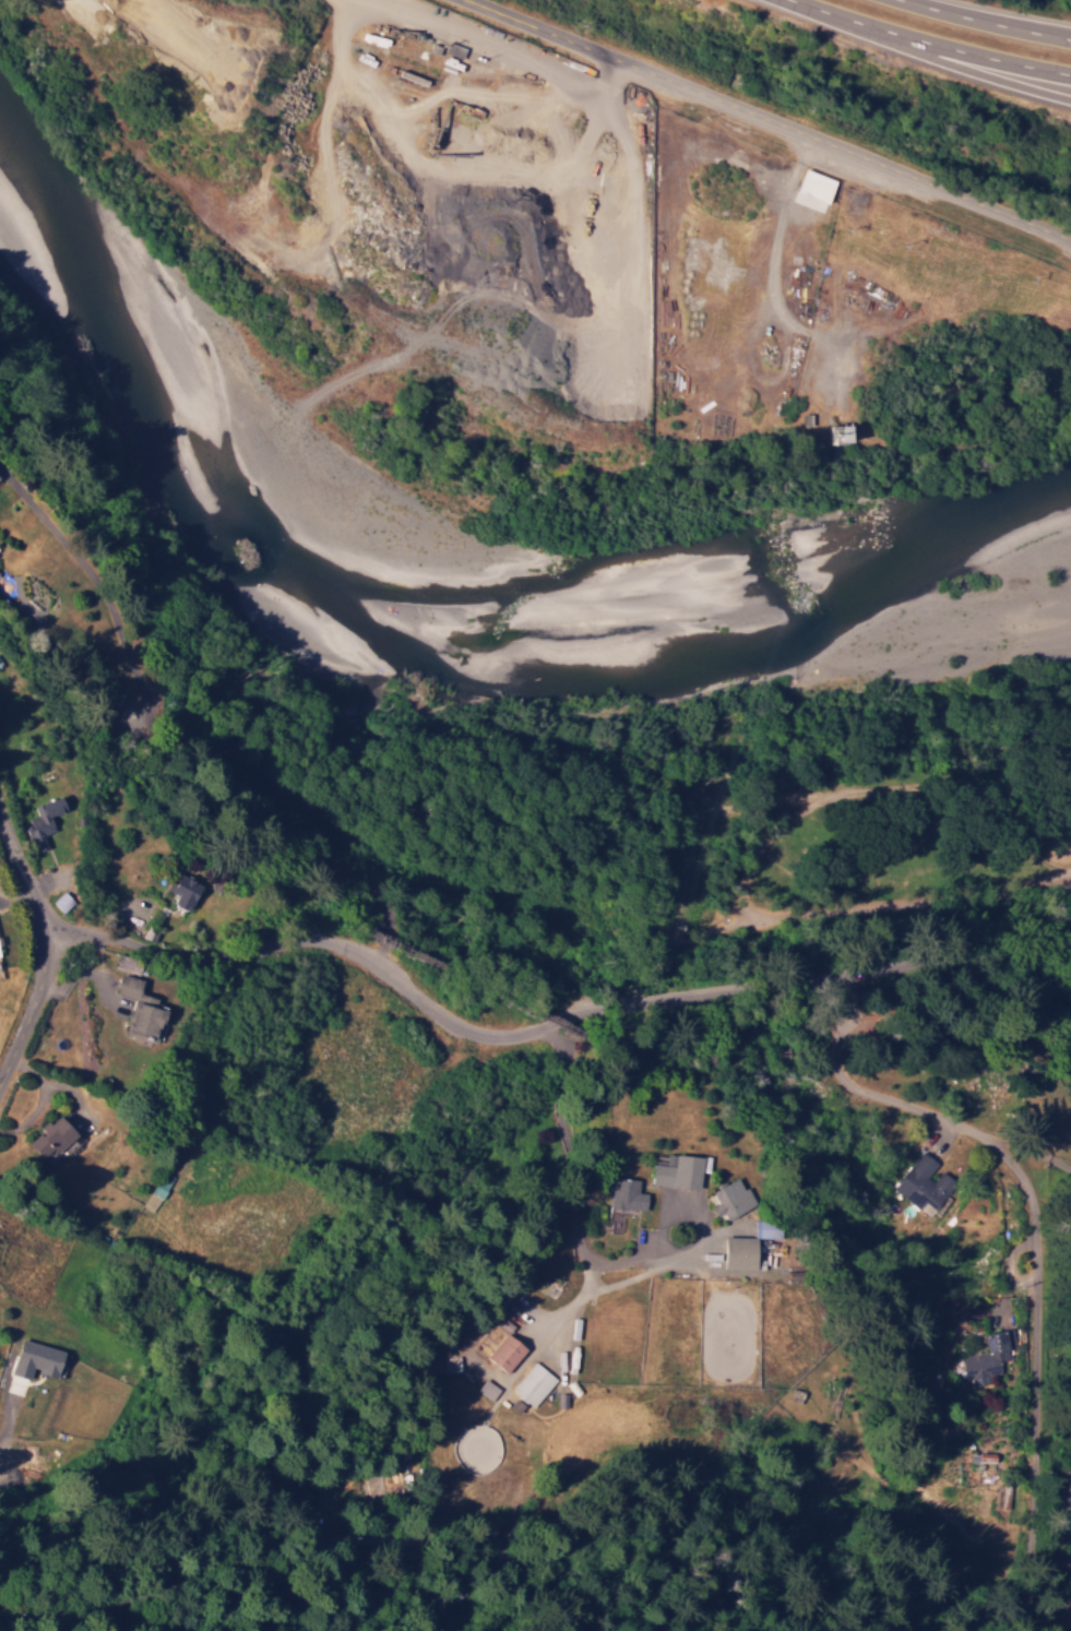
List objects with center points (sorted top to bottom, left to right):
road: (984, 21)
road: (926, 41)
road: (937, 59)
road: (770, 120)
river: (146, 410)
river: (707, 668)
building: (185, 890)
building: (62, 901)
road: (41, 944)
building: (0, 954)
railway: (487, 961)
building: (129, 963)
building: (141, 1008)
road: (538, 1026)
building: (53, 1135)
building: (679, 1171)
building: (925, 1184)
building: (156, 1191)
building: (626, 1198)
building: (733, 1198)
road: (1033, 1242)
building: (749, 1245)
building: (507, 1352)
building: (988, 1355)
building: (37, 1359)
road: (1054, 1367)
building: (533, 1384)
building: (487, 1389)
building: (516, 1405)

